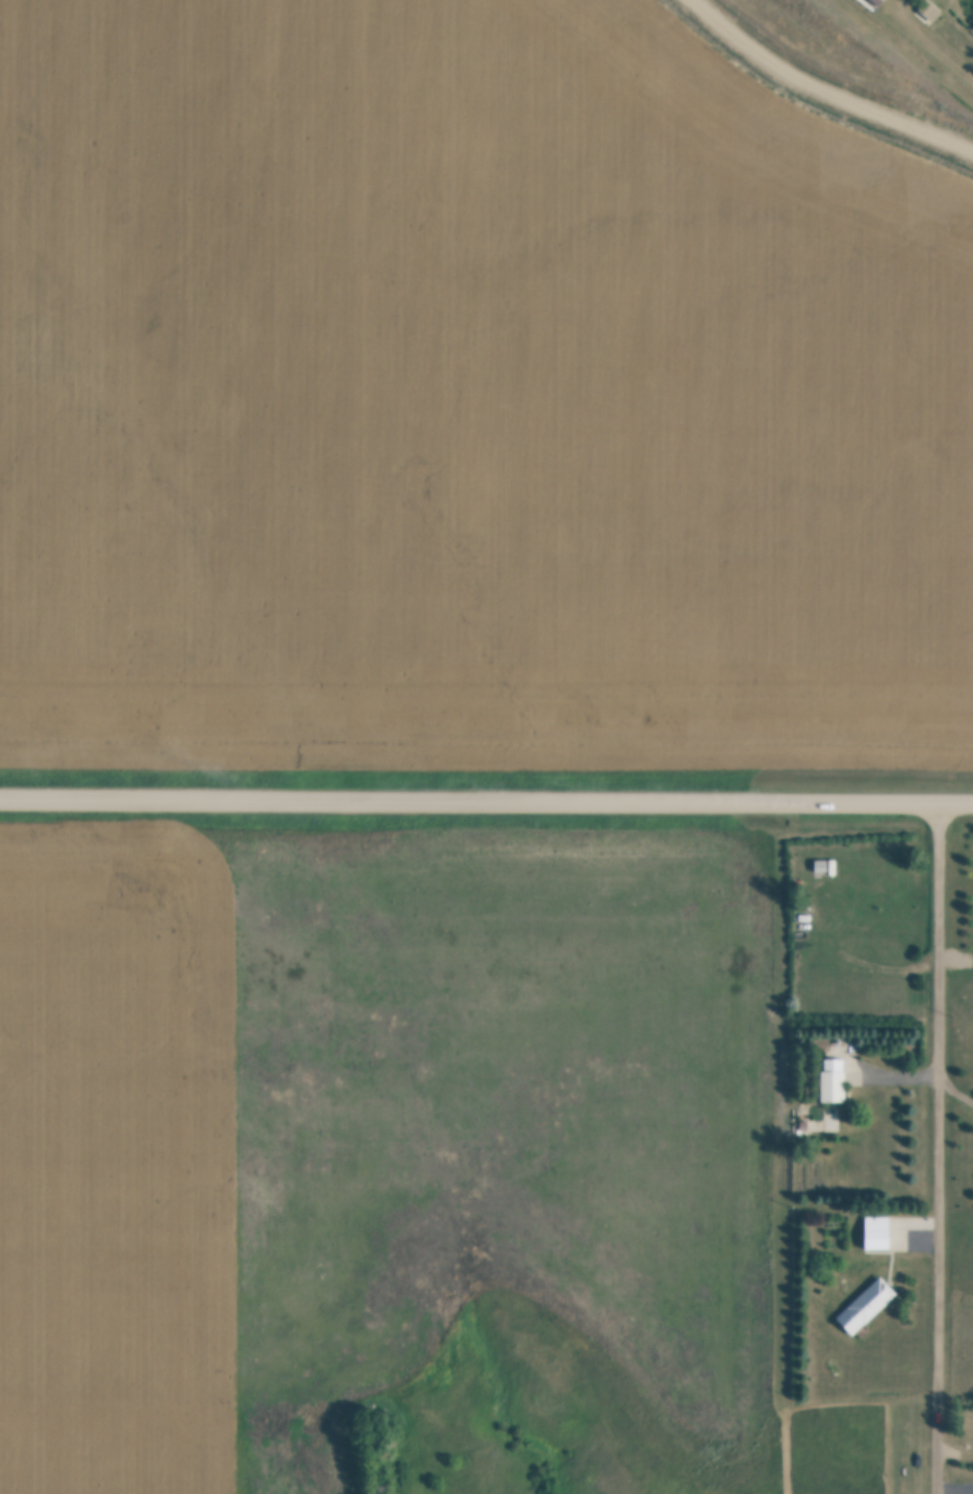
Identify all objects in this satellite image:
building: (875, 2)
building: (931, 10)
road: (939, 35)
road: (486, 799)
building: (820, 867)
building: (833, 1081)
road: (944, 1147)
building: (877, 1233)
building: (866, 1306)

